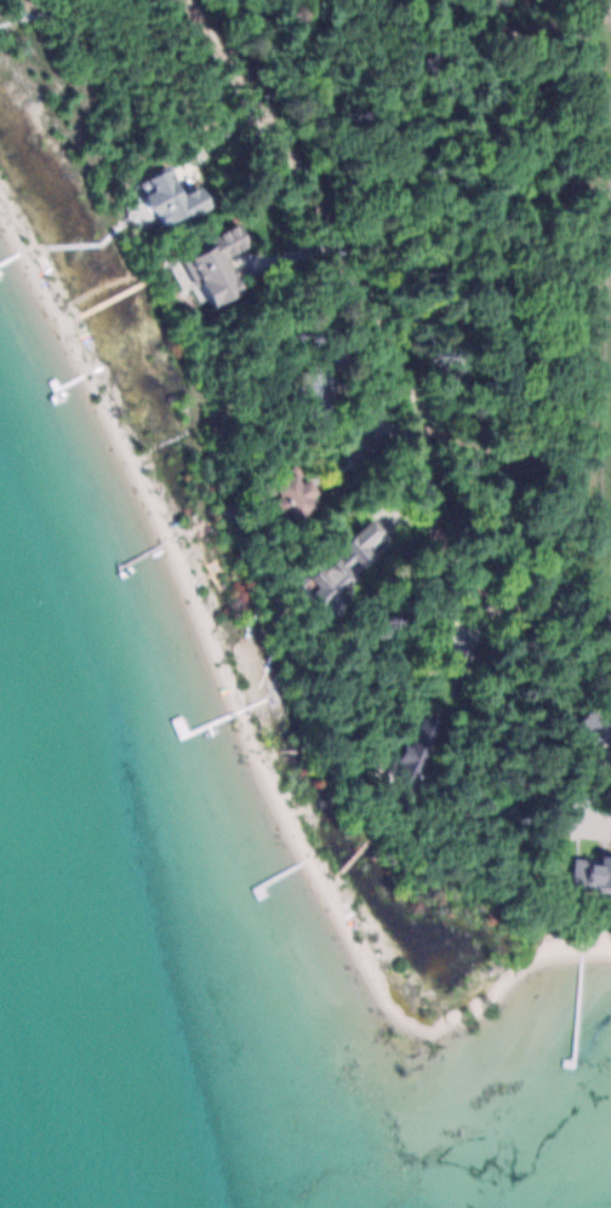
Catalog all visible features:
building: (219, 262)
road: (388, 345)
building: (360, 441)
building: (293, 490)
building: (347, 561)
building: (592, 858)

